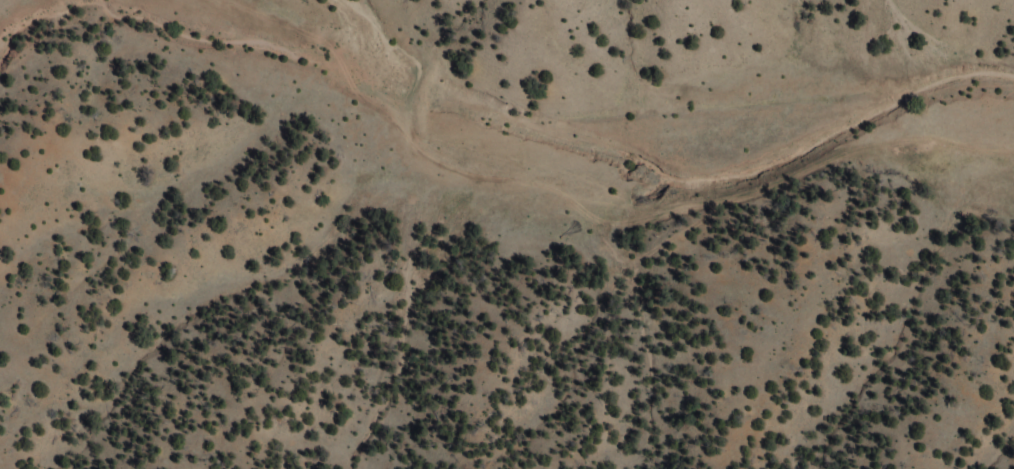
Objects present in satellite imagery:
dam: (422, 99)
road: (597, 232)

